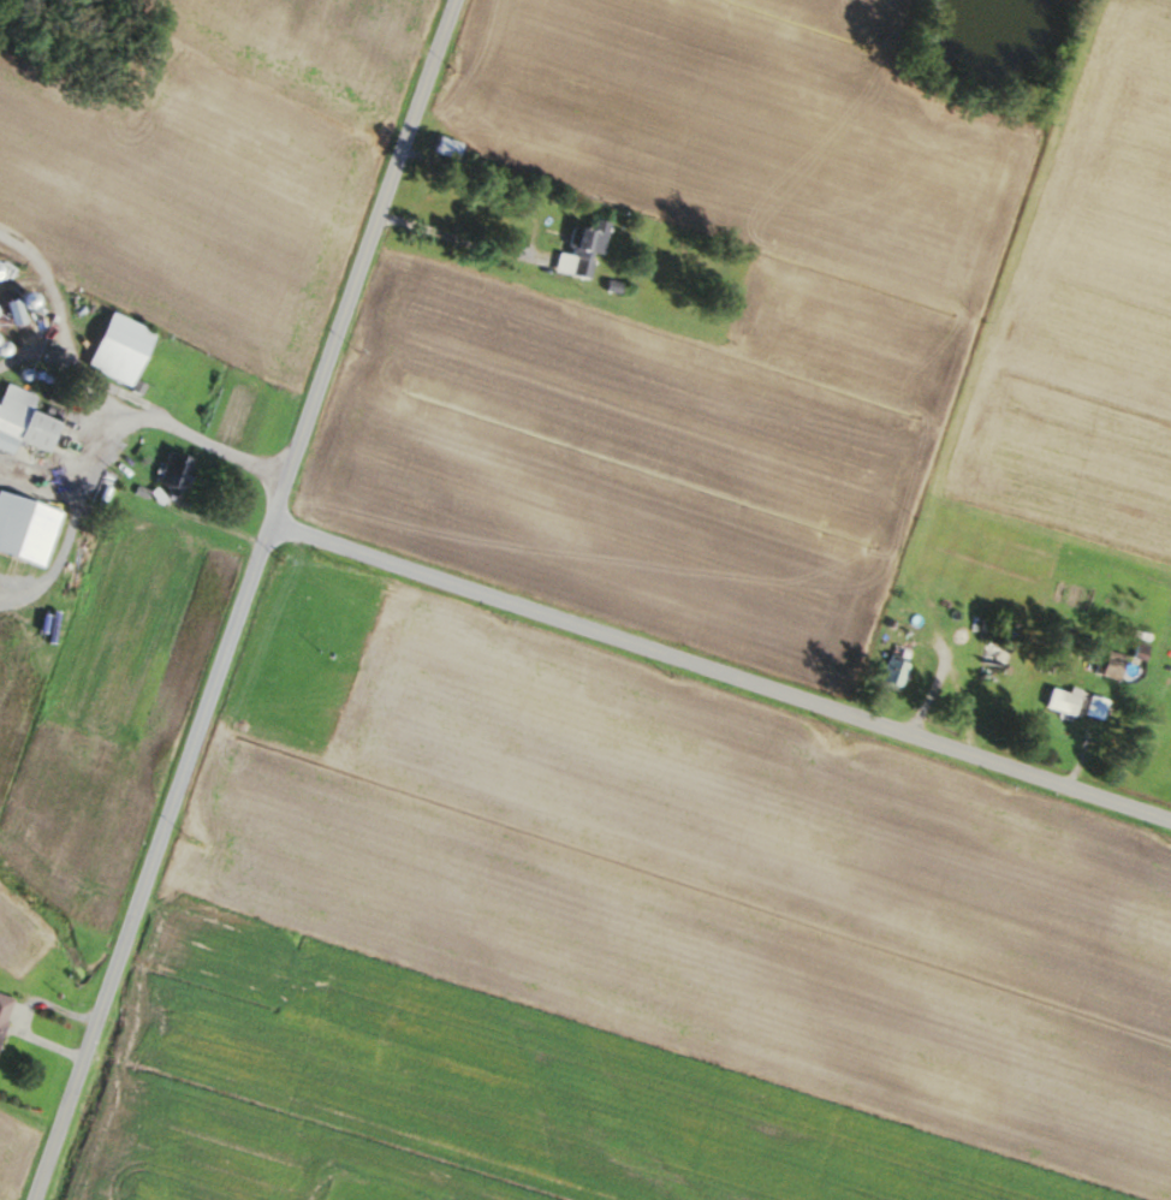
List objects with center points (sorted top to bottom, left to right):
building: (370, 1)
building: (337, 17)
building: (441, 147)
road: (534, 233)
building: (577, 248)
building: (112, 347)
building: (18, 420)
road: (166, 421)
building: (167, 474)
road: (29, 477)
building: (23, 529)
road: (59, 551)
road: (248, 599)
building: (986, 660)
building: (1105, 663)
building: (890, 671)
road: (723, 676)
building: (1059, 700)
building: (1, 1002)

